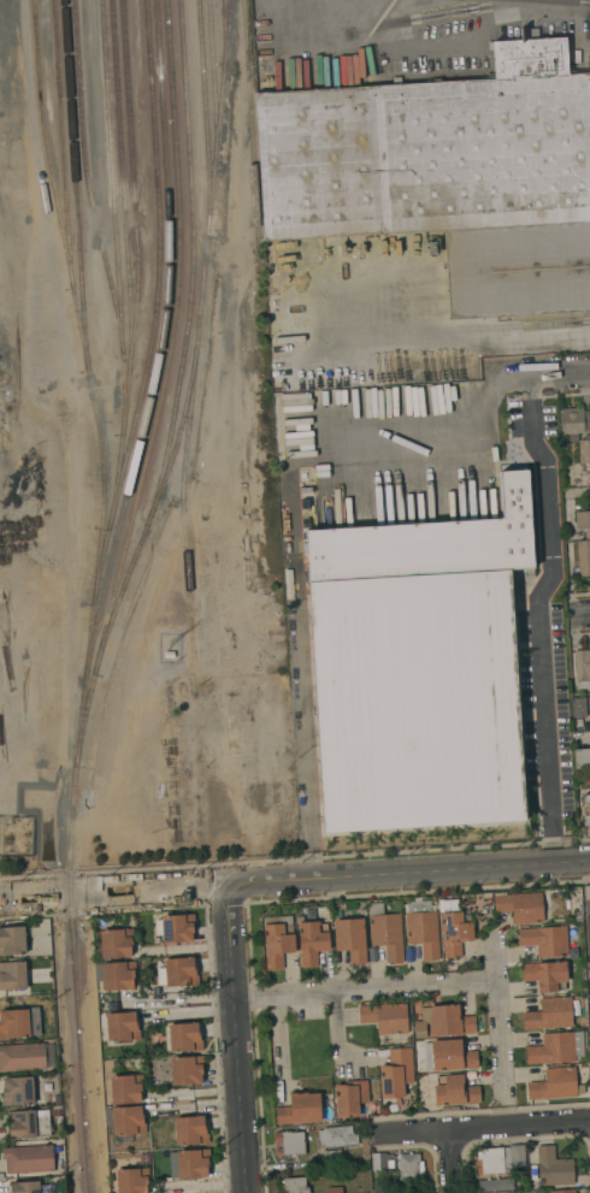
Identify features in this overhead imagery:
road: (344, 6)
railway: (226, 35)
railway: (217, 83)
railway: (207, 116)
railway: (253, 124)
railway: (64, 143)
building: (448, 175)
railway: (89, 178)
railway: (78, 185)
railway: (125, 187)
railway: (117, 217)
railway: (195, 262)
railway: (140, 265)
railway: (159, 306)
railway: (201, 330)
road: (514, 330)
railway: (164, 343)
road: (573, 374)
railway: (92, 380)
railway: (165, 386)
road: (480, 398)
building: (574, 420)
building: (573, 437)
building: (584, 449)
railway: (153, 510)
building: (583, 542)
road: (538, 606)
road: (584, 613)
building: (419, 668)
building: (582, 668)
building: (579, 707)
building: (582, 757)
building: (586, 810)
road: (295, 881)
building: (586, 897)
building: (521, 905)
building: (177, 927)
building: (424, 928)
building: (454, 928)
building: (387, 931)
building: (350, 938)
building: (588, 938)
building: (12, 939)
building: (277, 939)
building: (545, 939)
building: (312, 940)
building: (117, 943)
building: (181, 971)
building: (12, 974)
building: (116, 974)
building: (545, 974)
railway: (73, 979)
road: (366, 991)
building: (16, 992)
road: (184, 999)
building: (589, 1012)
road: (500, 1014)
building: (549, 1014)
building: (385, 1016)
building: (444, 1021)
building: (19, 1022)
building: (122, 1026)
building: (184, 1037)
road: (237, 1039)
building: (556, 1047)
building: (449, 1055)
building: (26, 1056)
building: (116, 1063)
building: (158, 1069)
building: (187, 1069)
building: (396, 1073)
building: (556, 1083)
building: (126, 1088)
building: (18, 1091)
building: (455, 1091)
building: (350, 1097)
building: (300, 1109)
building: (55, 1111)
building: (128, 1120)
building: (28, 1123)
road: (482, 1128)
building: (190, 1130)
building: (337, 1135)
building: (290, 1142)
building: (334, 1156)
building: (29, 1158)
building: (500, 1158)
building: (380, 1159)
road: (454, 1162)
building: (189, 1163)
building: (411, 1167)
building: (554, 1167)
building: (132, 1180)
building: (495, 1183)
building: (295, 1185)
building: (25, 1187)
building: (379, 1188)
building: (335, 1189)
building: (562, 1191)

